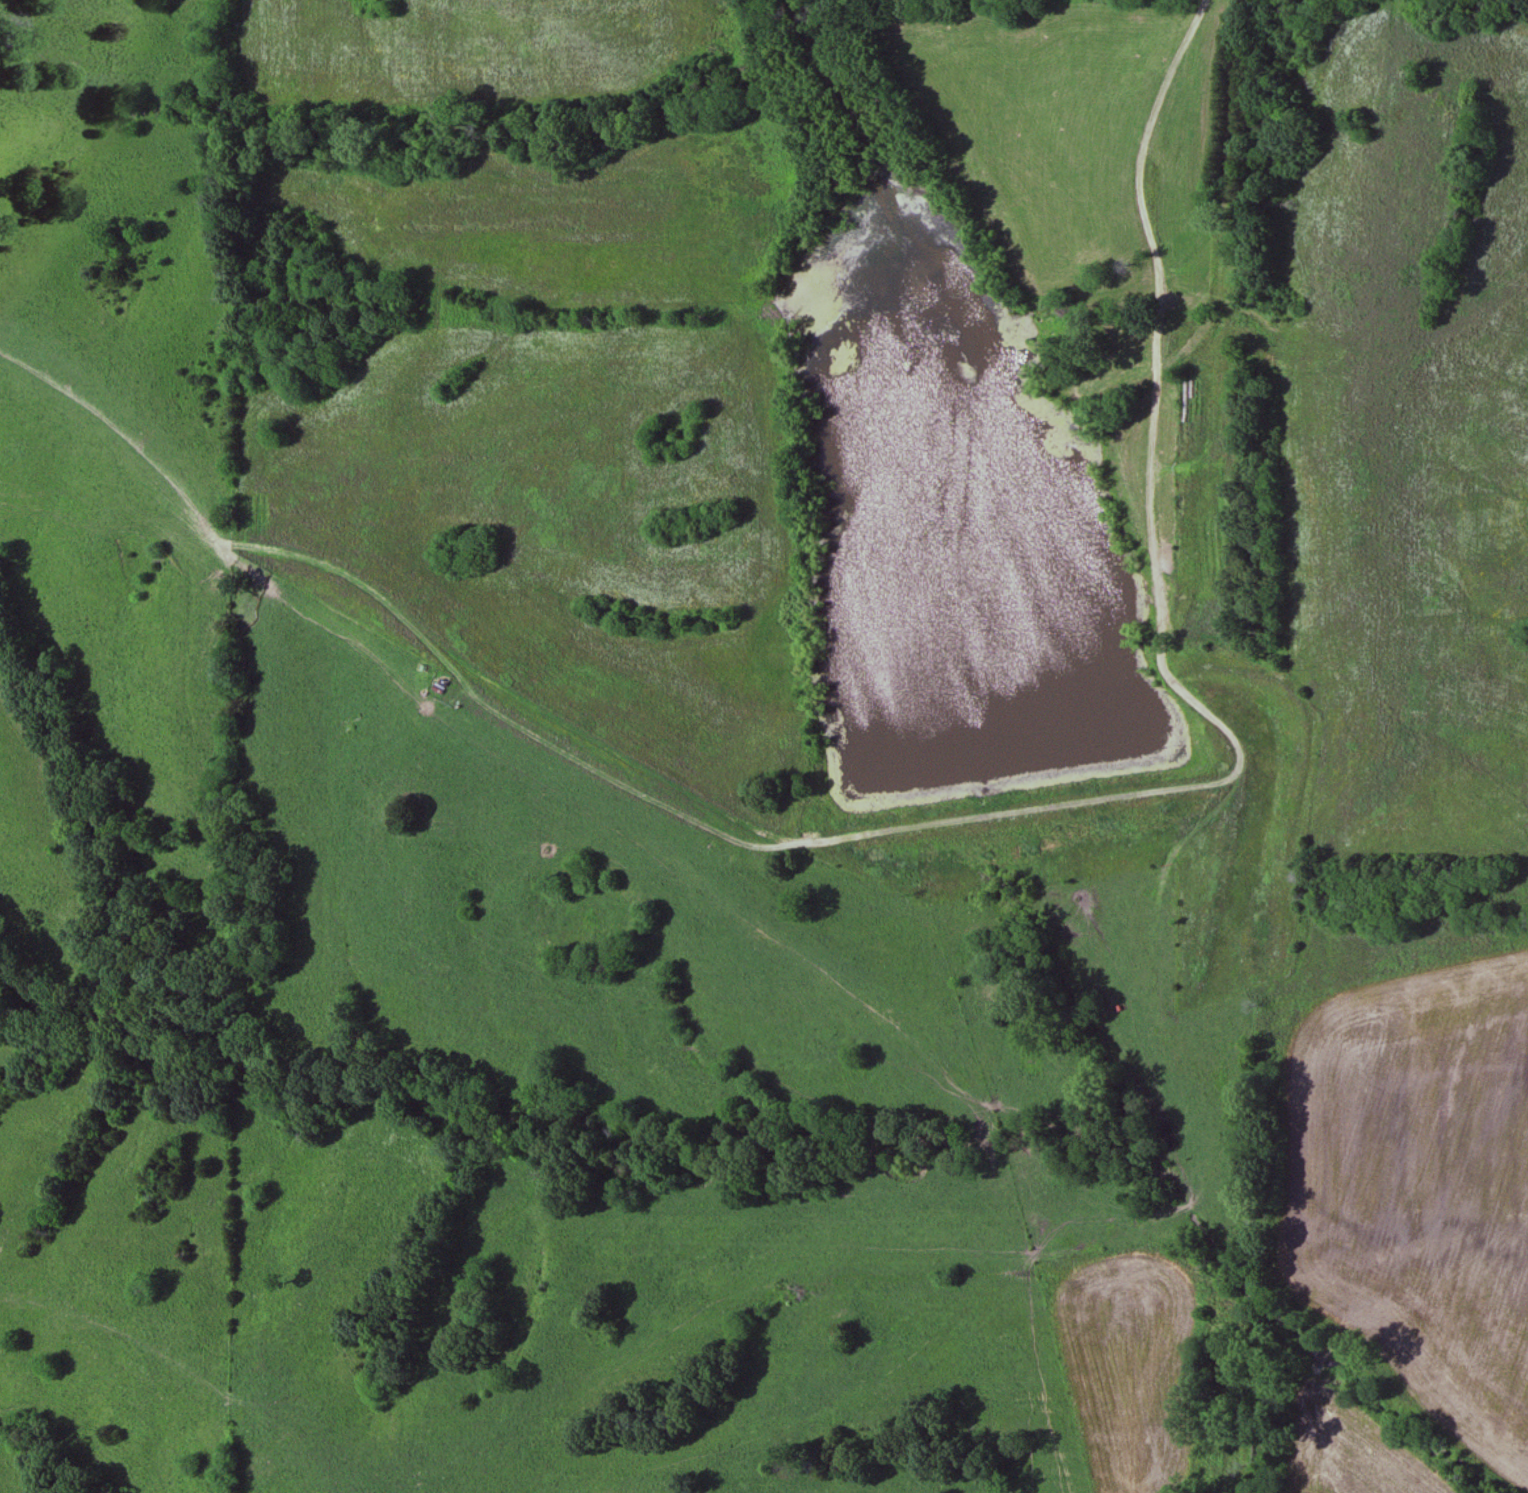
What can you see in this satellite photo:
road: (955, 831)

